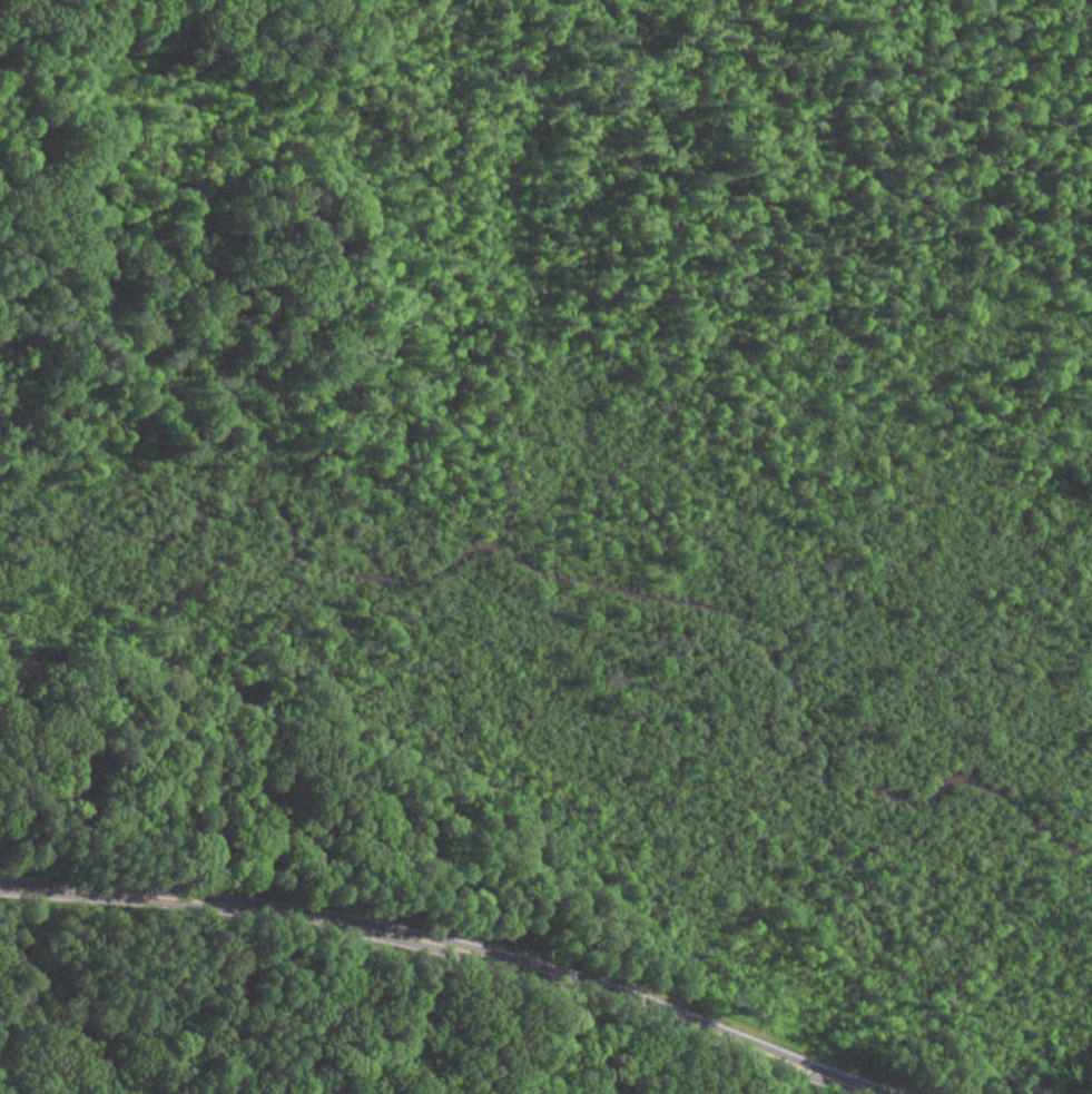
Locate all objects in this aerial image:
road: (449, 942)

